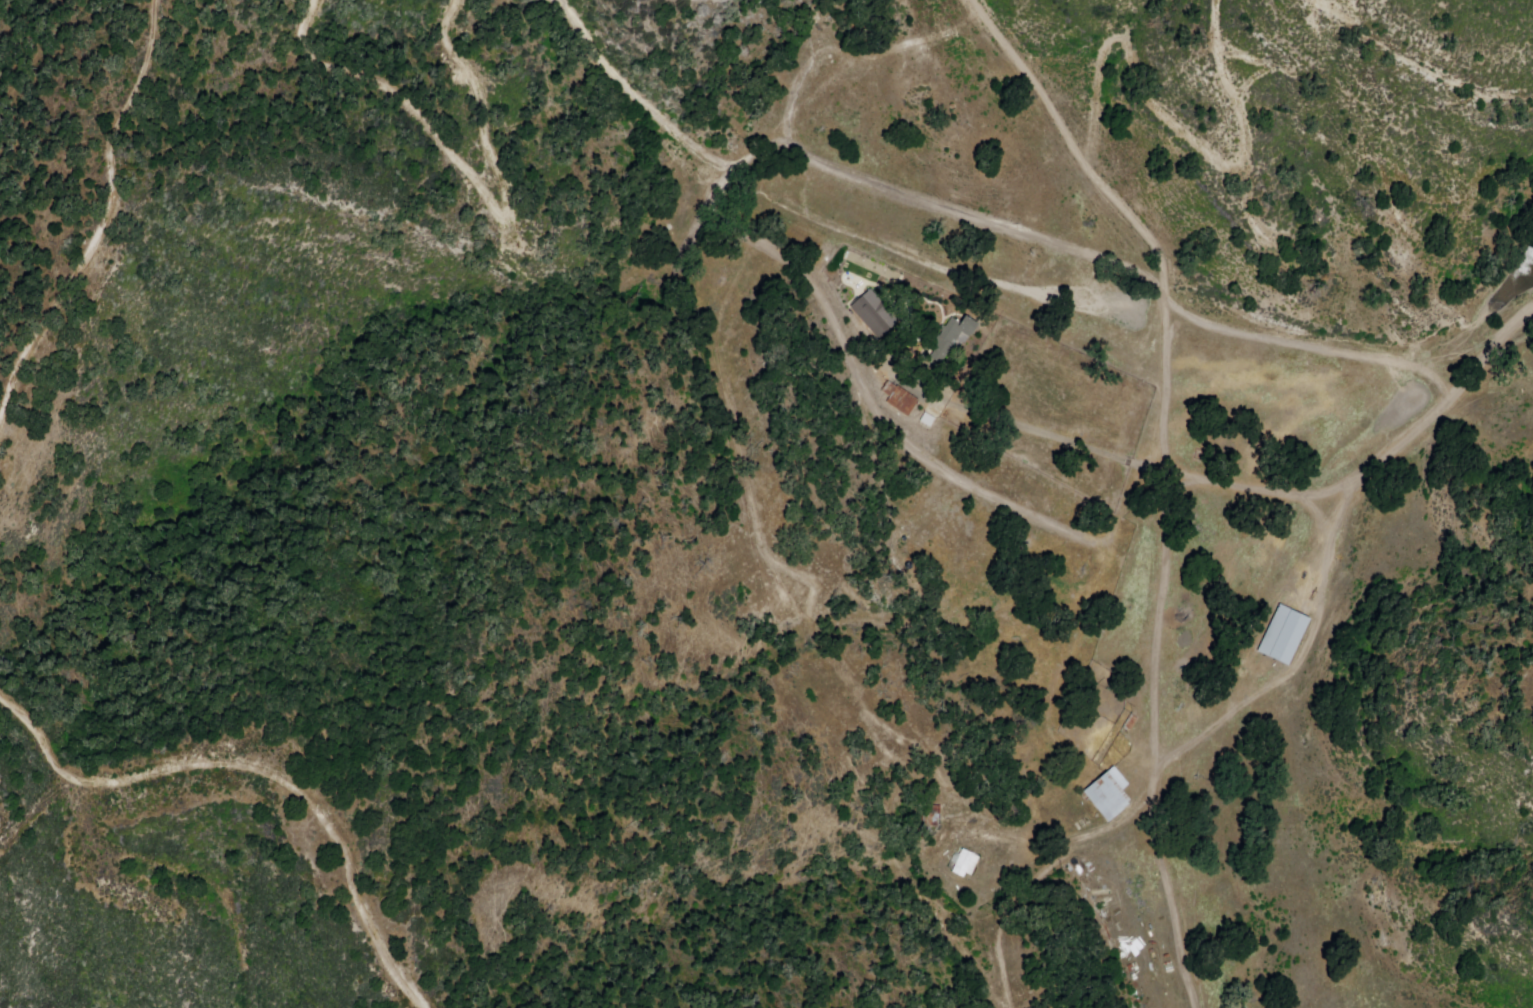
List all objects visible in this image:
road: (1152, 269)
building: (873, 315)
building: (959, 330)
building: (894, 400)
road: (1401, 434)
building: (1283, 632)
building: (1130, 722)
building: (1109, 796)
building: (930, 816)
building: (962, 864)

